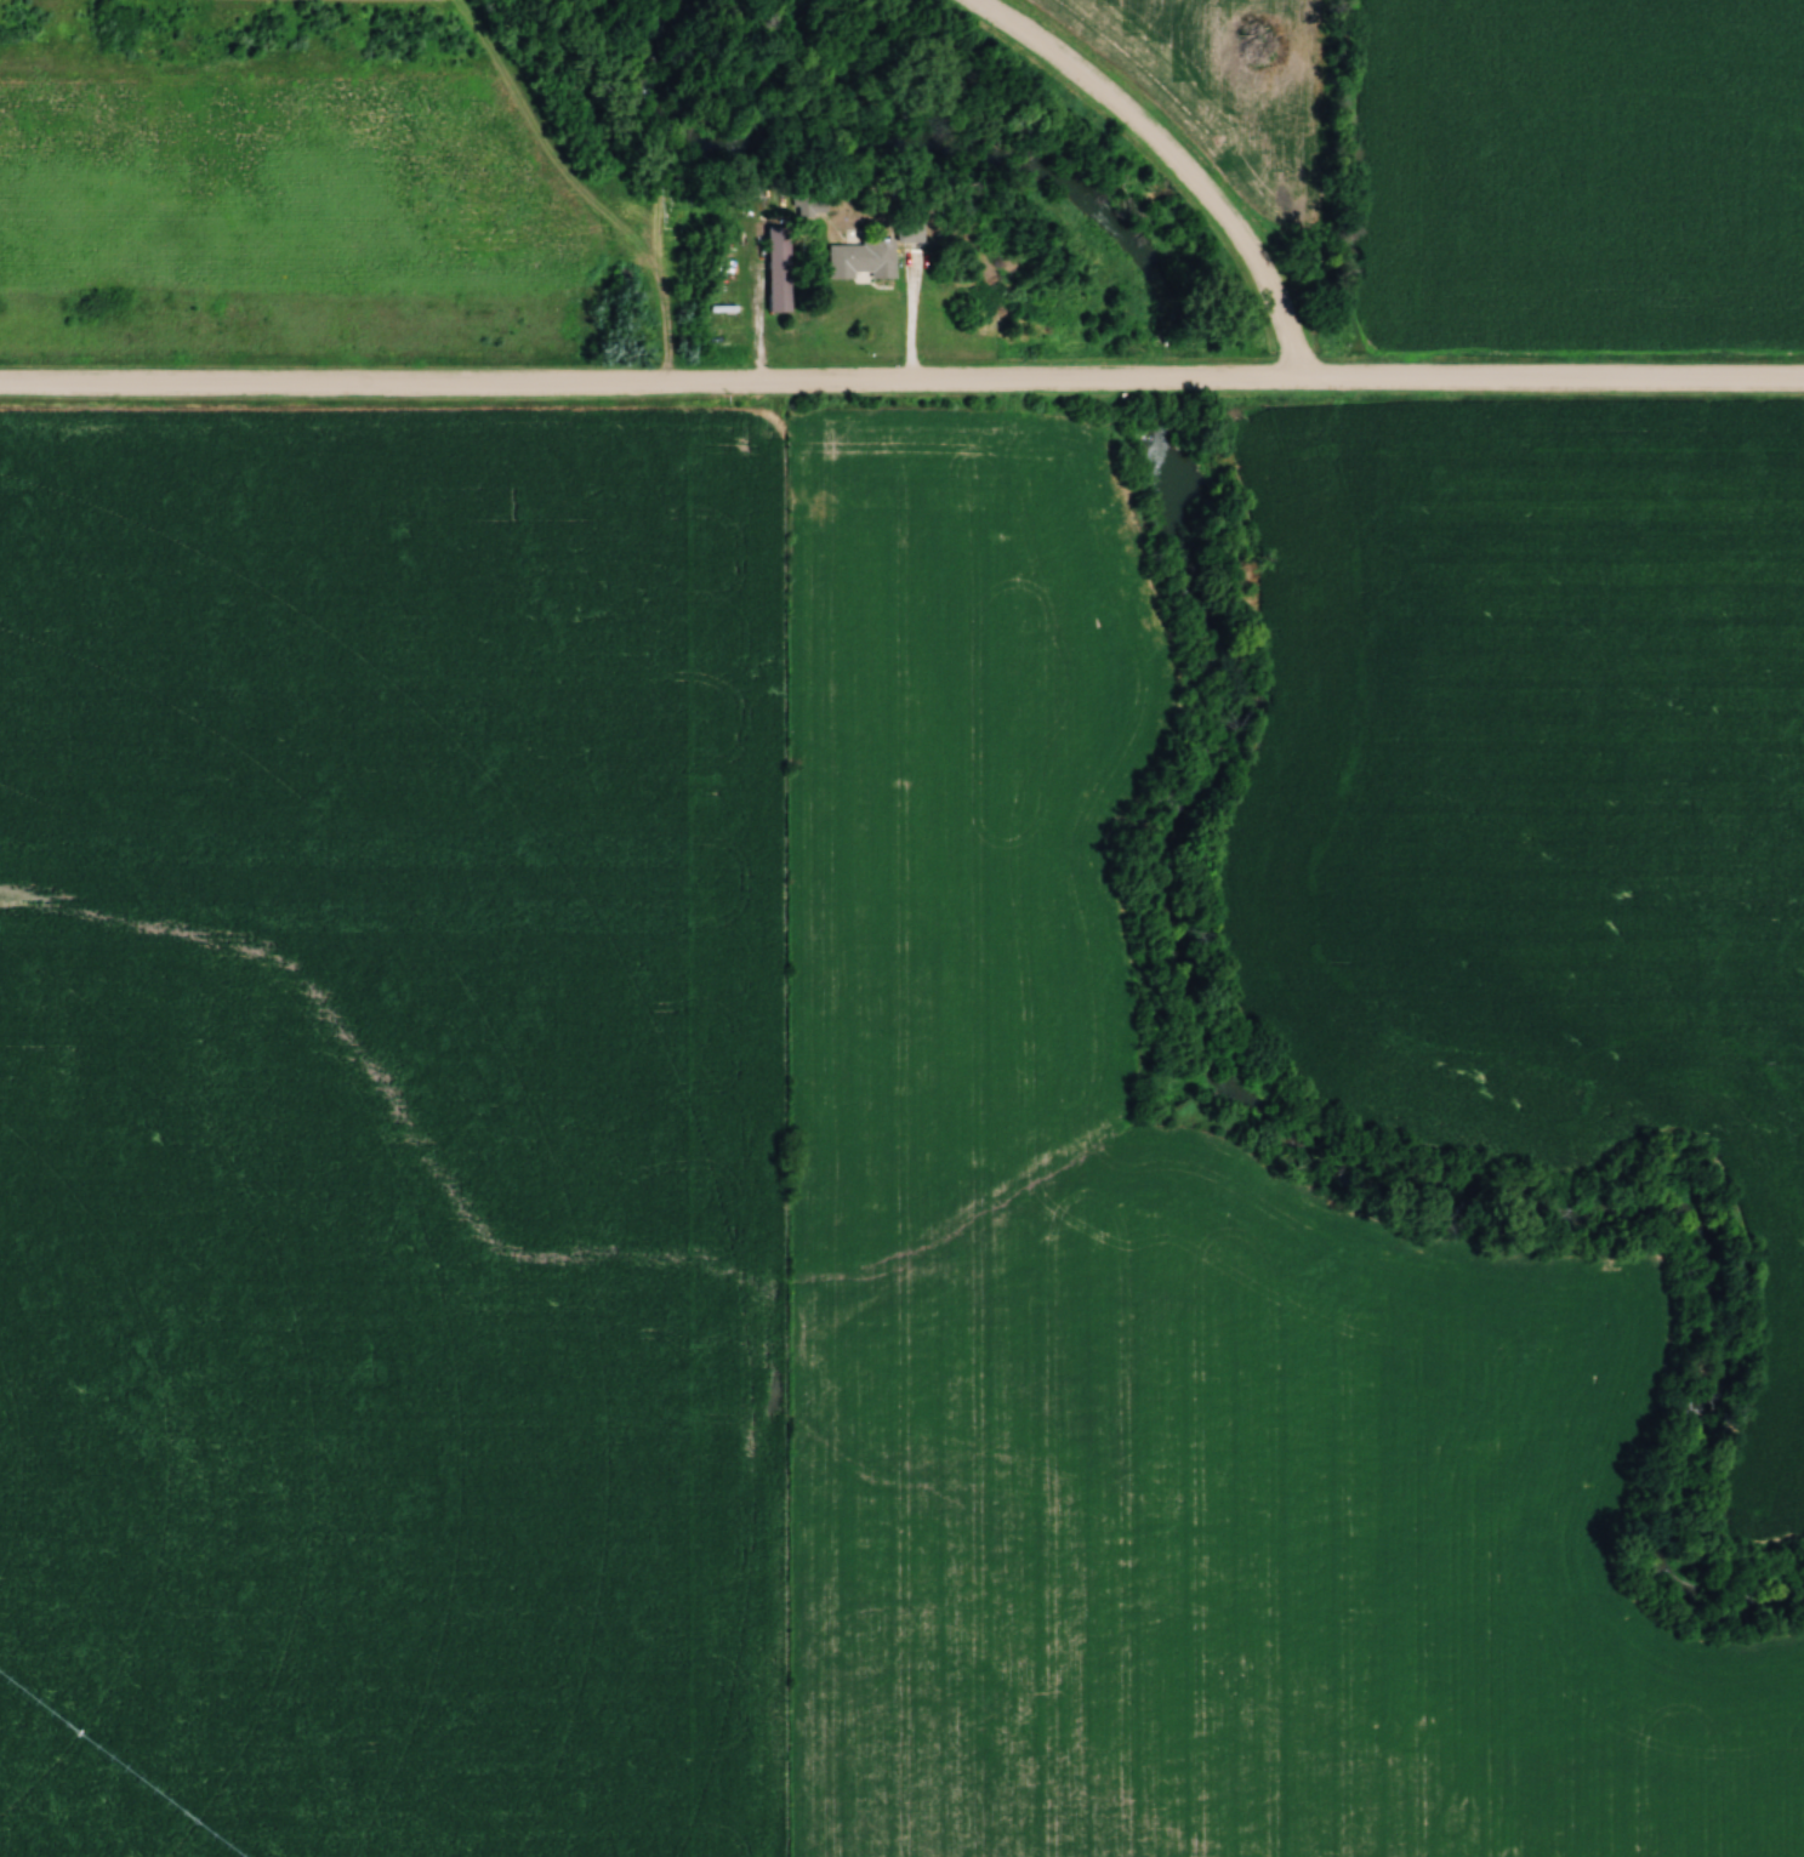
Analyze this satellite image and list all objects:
river: (899, 153)
road: (1172, 161)
building: (912, 229)
building: (865, 260)
building: (781, 269)
road: (1229, 378)
road: (328, 380)
river: (1171, 383)
river: (1370, 1174)

